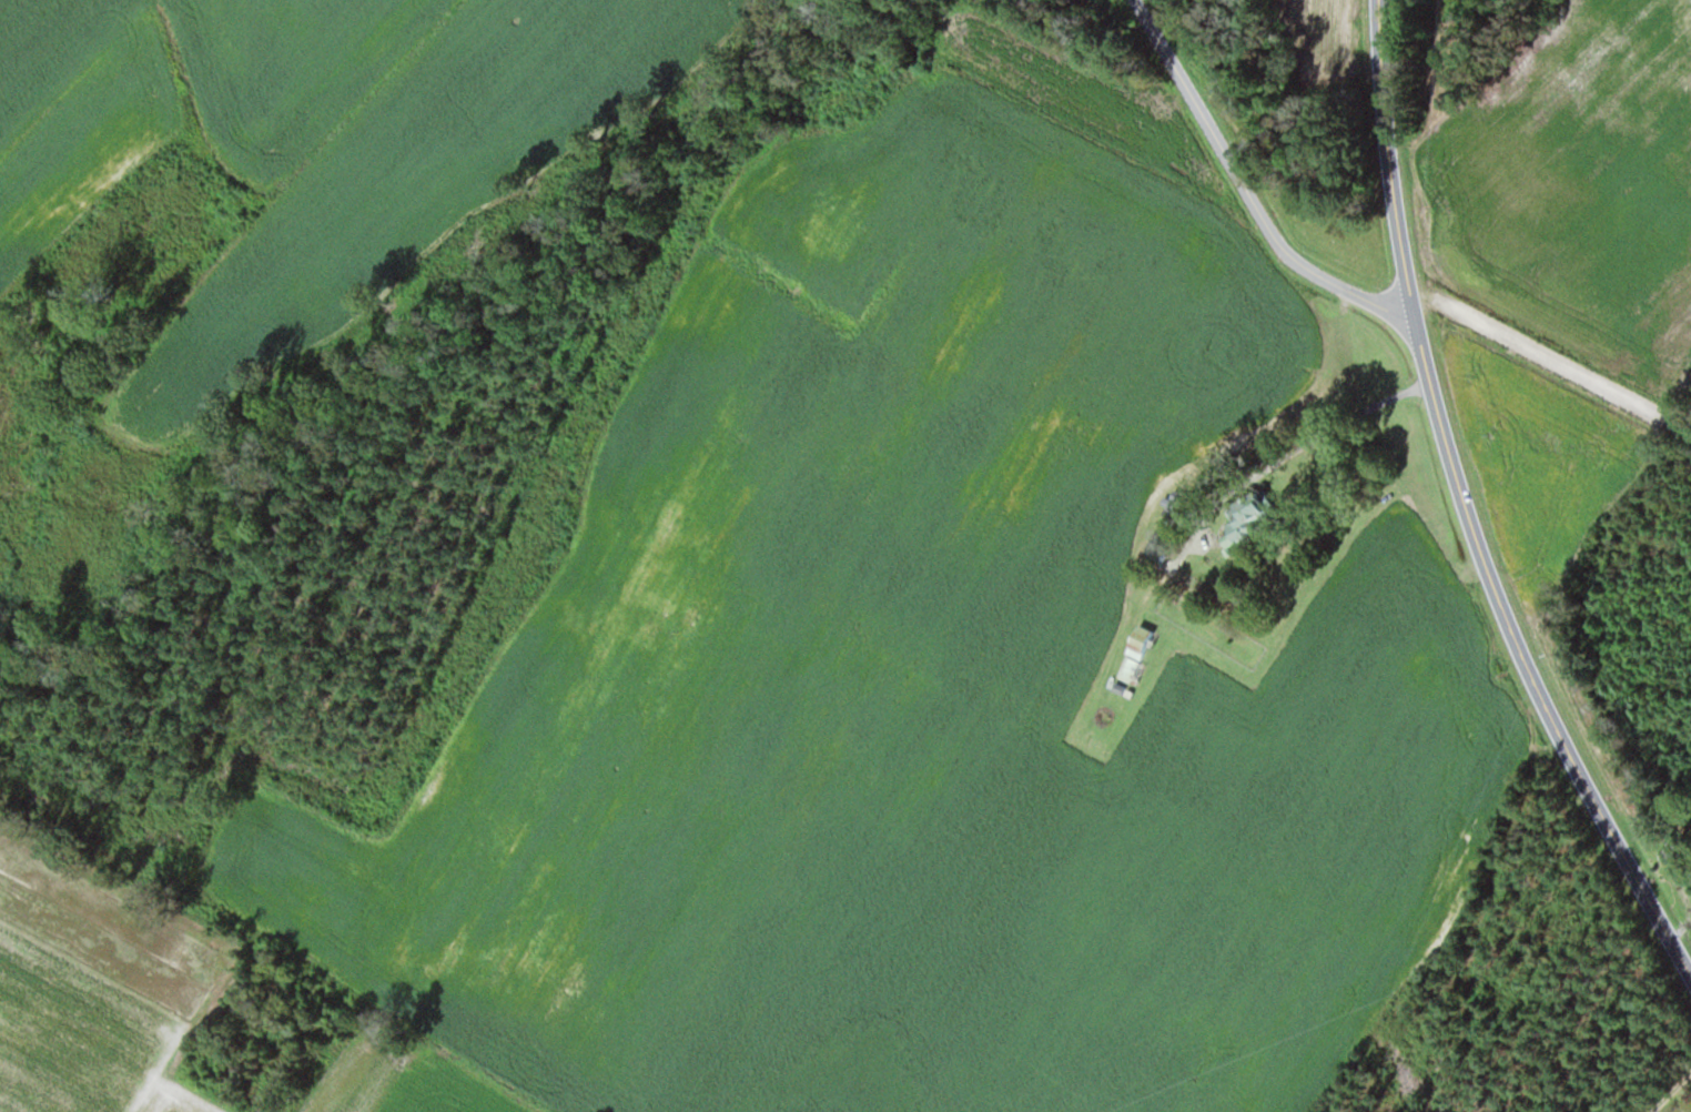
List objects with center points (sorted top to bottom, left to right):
road: (1242, 188)
road: (1549, 358)
road: (1470, 508)
building: (1163, 553)
building: (1142, 654)
road: (1671, 1092)

